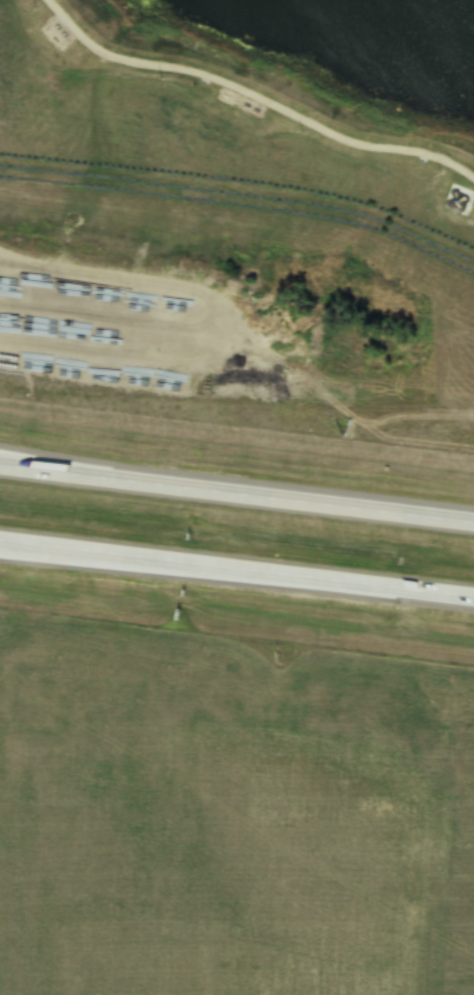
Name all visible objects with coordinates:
road: (74, 327)
road: (306, 386)
road: (237, 495)
road: (237, 569)

